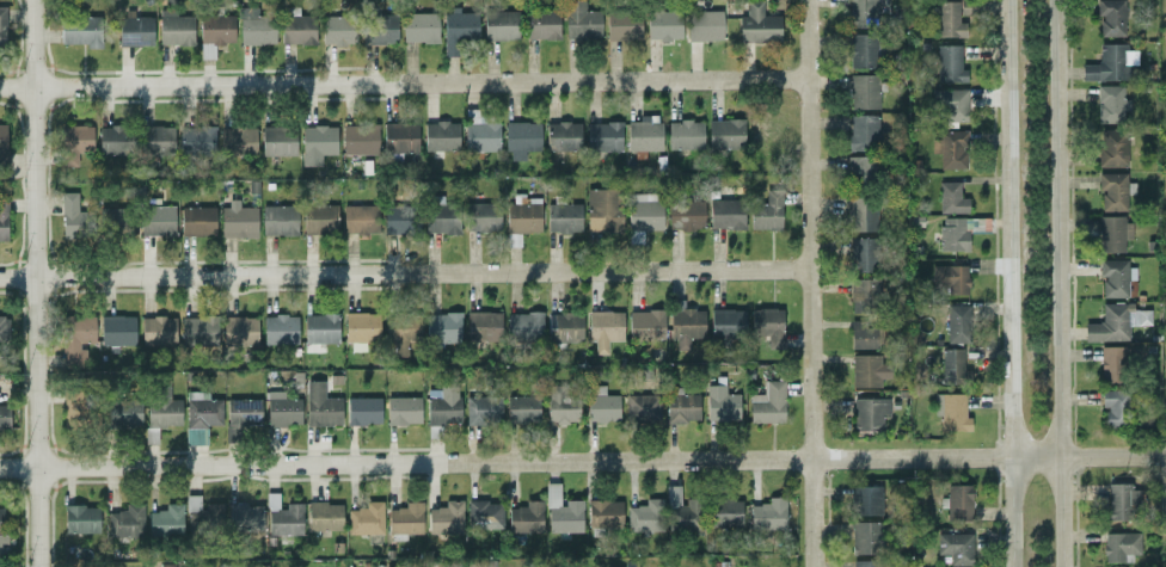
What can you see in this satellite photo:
building: (863, 11)
building: (1111, 17)
building: (949, 19)
building: (581, 20)
building: (501, 24)
building: (757, 24)
building: (544, 25)
building: (663, 25)
building: (704, 25)
building: (2, 26)
building: (254, 26)
building: (419, 26)
building: (622, 26)
building: (174, 27)
building: (297, 29)
building: (456, 29)
building: (338, 30)
building: (80, 31)
building: (135, 31)
building: (215, 32)
building: (863, 50)
building: (1110, 62)
building: (950, 63)
road: (401, 82)
building: (864, 91)
building: (1112, 104)
building: (952, 105)
building: (863, 131)
building: (480, 132)
building: (644, 132)
building: (725, 132)
building: (441, 135)
building: (603, 135)
building: (685, 135)
building: (563, 136)
building: (400, 137)
building: (360, 138)
building: (521, 138)
building: (115, 140)
building: (158, 140)
building: (238, 140)
building: (278, 140)
building: (197, 141)
building: (2, 142)
building: (75, 142)
building: (317, 143)
building: (1112, 147)
building: (951, 148)
building: (861, 168)
building: (1113, 190)
building: (951, 198)
building: (603, 210)
building: (726, 212)
building: (767, 212)
building: (643, 214)
building: (685, 214)
building: (861, 214)
building: (523, 215)
building: (73, 217)
building: (401, 217)
building: (484, 217)
building: (564, 217)
building: (2, 218)
building: (319, 218)
building: (360, 218)
building: (442, 218)
building: (158, 220)
building: (197, 220)
building: (278, 220)
building: (115, 221)
building: (238, 221)
building: (958, 232)
building: (1113, 233)
building: (864, 254)
road: (403, 273)
building: (951, 278)
building: (1116, 278)
road: (33, 283)
road: (808, 283)
road: (1006, 283)
road: (1057, 283)
building: (864, 295)
building: (646, 323)
building: (728, 323)
building: (768, 323)
building: (958, 323)
building: (523, 325)
building: (361, 326)
building: (484, 326)
building: (565, 326)
building: (198, 327)
building: (320, 327)
building: (442, 327)
building: (685, 327)
building: (4, 328)
building: (117, 329)
building: (280, 329)
building: (605, 329)
building: (158, 331)
building: (240, 331)
building: (401, 331)
building: (865, 333)
building: (76, 339)
building: (1112, 364)
building: (952, 366)
building: (865, 370)
building: (767, 402)
building: (722, 403)
building: (80, 405)
building: (321, 405)
building: (601, 405)
building: (162, 407)
building: (442, 407)
building: (682, 407)
building: (1113, 407)
building: (282, 408)
building: (522, 408)
building: (563, 408)
building: (643, 408)
building: (202, 409)
building: (363, 409)
building: (403, 409)
building: (483, 409)
building: (124, 411)
building: (241, 412)
building: (953, 412)
building: (870, 413)
building: (4, 417)
road: (1161, 458)
road: (578, 462)
building: (866, 499)
building: (1122, 500)
building: (958, 501)
building: (681, 510)
building: (561, 511)
building: (725, 512)
building: (202, 513)
building: (605, 513)
building: (768, 513)
building: (484, 514)
building: (245, 516)
building: (324, 516)
building: (645, 516)
building: (283, 517)
building: (446, 517)
building: (526, 517)
building: (81, 518)
building: (366, 518)
building: (166, 520)
building: (125, 522)
building: (1, 526)
building: (866, 537)
building: (1119, 546)
building: (955, 547)
building: (867, 563)
building: (167, 565)

